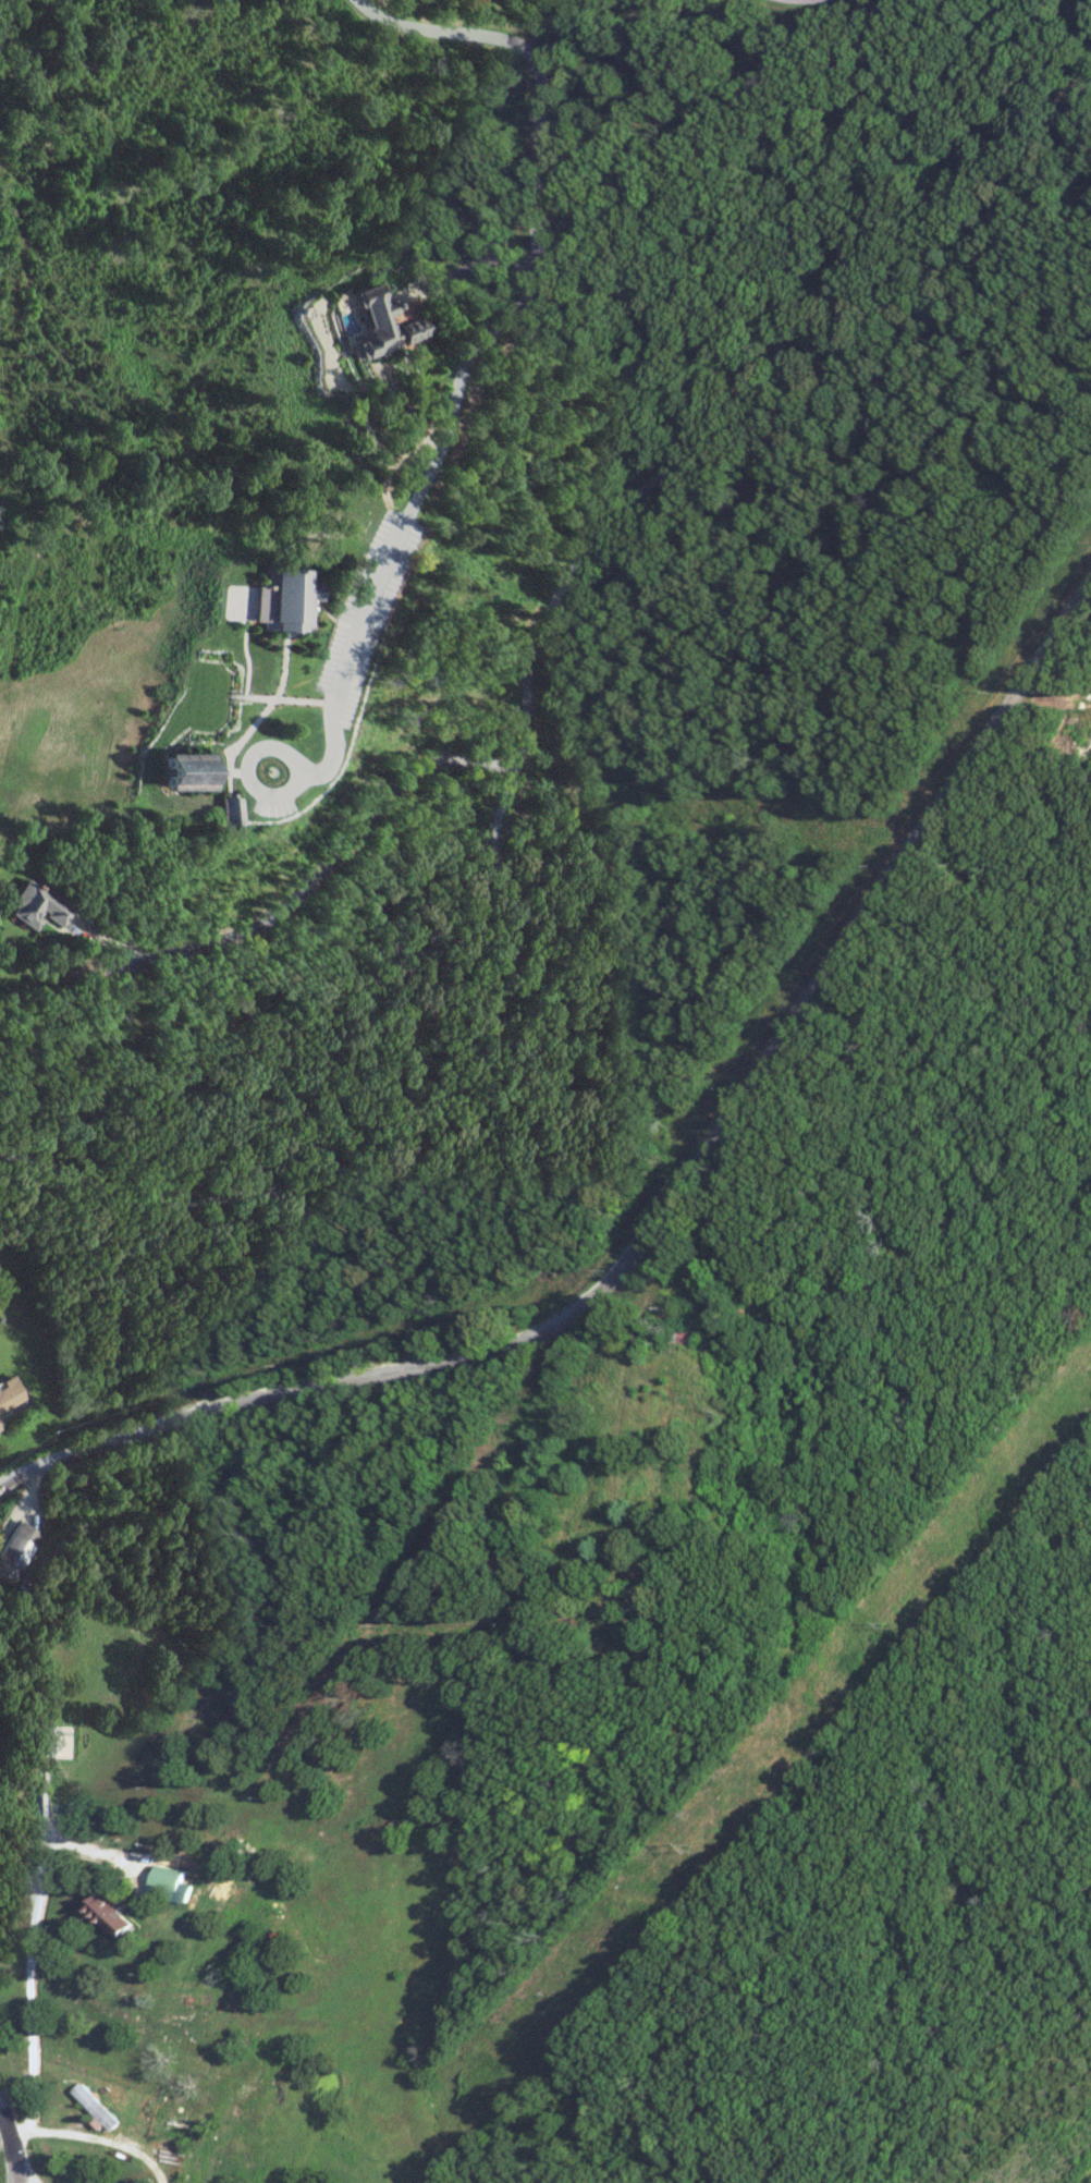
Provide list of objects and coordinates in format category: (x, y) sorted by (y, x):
building: (363, 322)
building: (410, 330)
road: (485, 341)
building: (280, 599)
road: (262, 748)
building: (182, 769)
building: (225, 809)
building: (33, 905)
road: (673, 1207)
road: (359, 1220)
building: (8, 1393)
building: (12, 1549)
power tower: (881, 1623)
building: (50, 1741)
power tower: (686, 1854)
building: (168, 1883)
building: (110, 1913)
building: (95, 2108)
road: (11, 2143)
road: (27, 2174)

